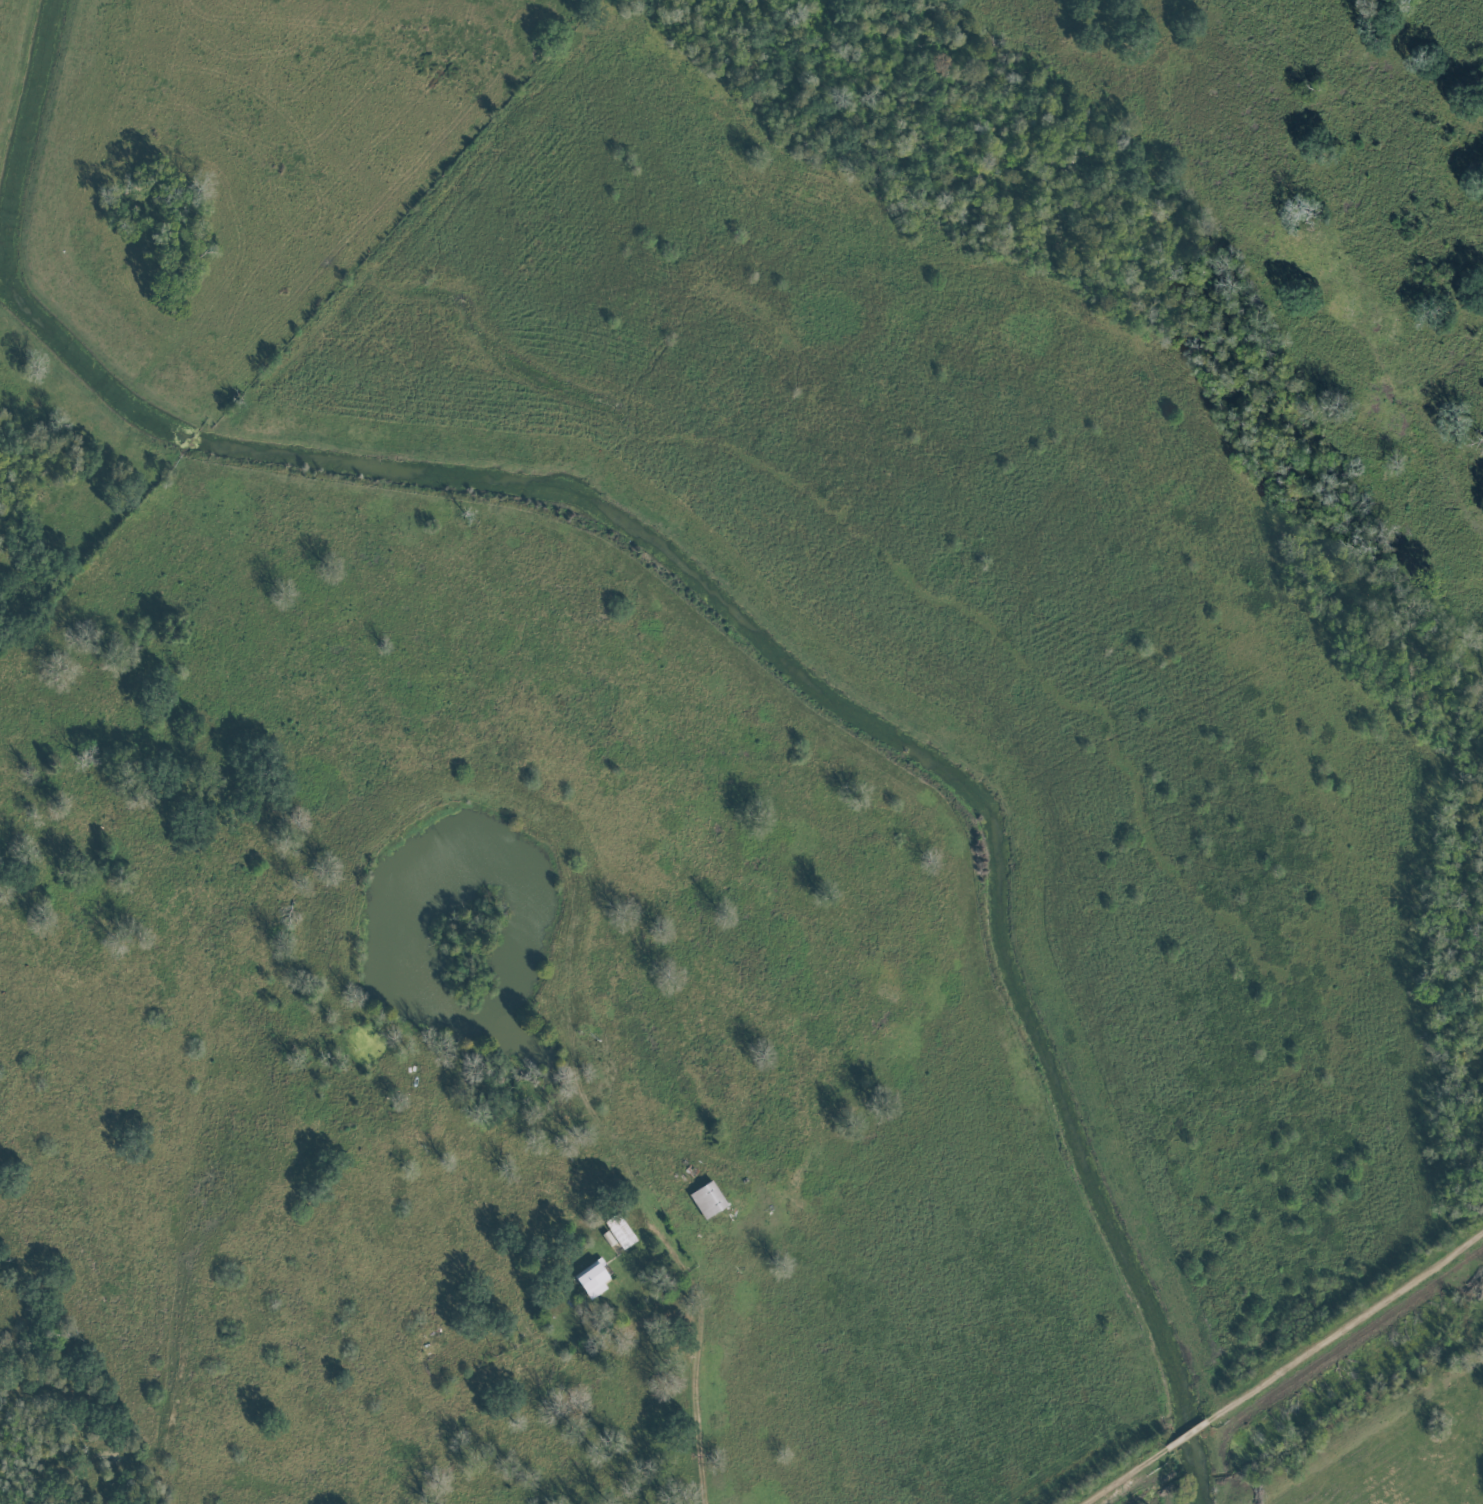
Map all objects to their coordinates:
building: (709, 1199)
building: (594, 1279)
road: (1350, 1330)
road: (699, 1351)
road: (1196, 1436)
road: (1135, 1477)

